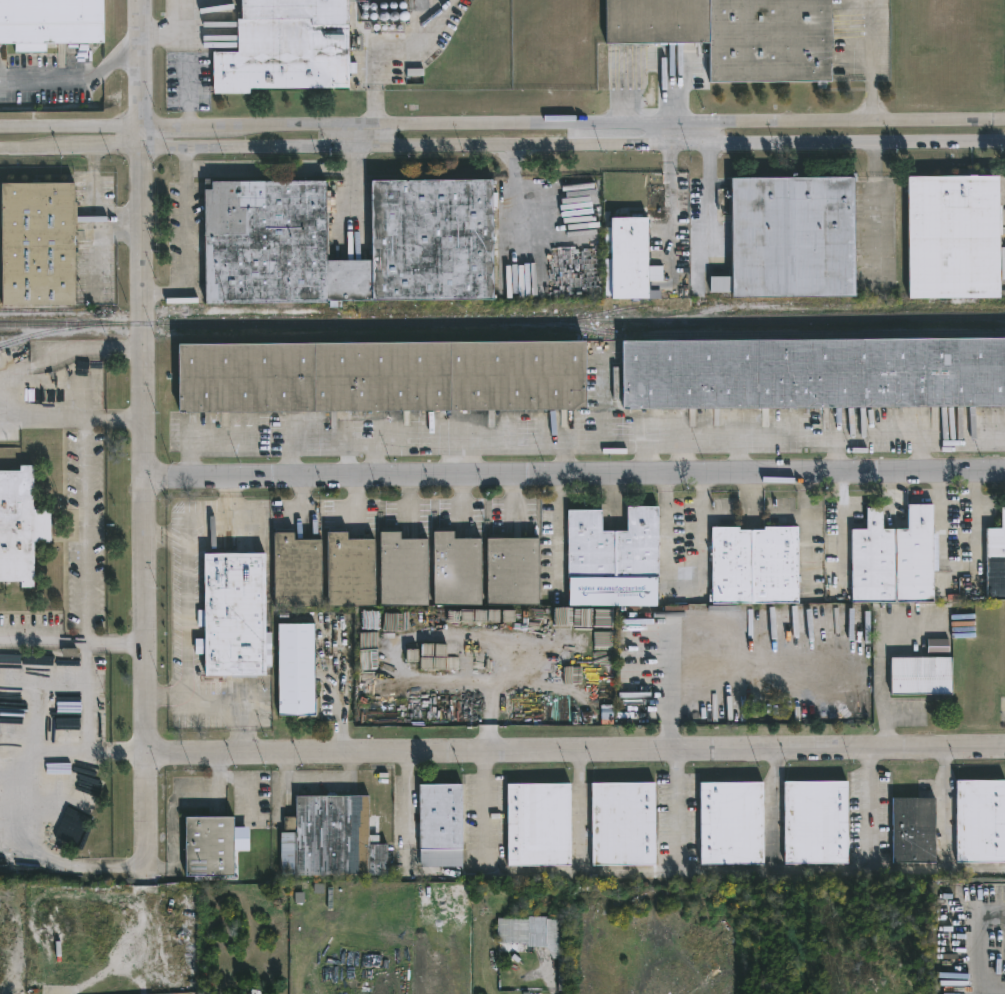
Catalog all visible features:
building: (50, 23)
road: (166, 34)
building: (733, 34)
building: (284, 47)
road: (392, 58)
road: (123, 60)
road: (872, 62)
road: (143, 64)
road: (189, 64)
road: (96, 77)
road: (45, 81)
road: (574, 126)
road: (72, 130)
road: (710, 135)
road: (144, 137)
road: (366, 137)
road: (574, 146)
road: (72, 148)
road: (517, 184)
road: (360, 188)
road: (710, 195)
road: (671, 208)
road: (184, 236)
building: (261, 236)
building: (952, 236)
building: (790, 237)
building: (607, 241)
building: (35, 243)
building: (628, 257)
railway: (776, 302)
railway: (43, 309)
railway: (614, 310)
railway: (502, 320)
railway: (51, 330)
railway: (758, 333)
road: (66, 346)
building: (813, 374)
building: (381, 377)
road: (38, 418)
road: (688, 446)
road: (289, 448)
road: (360, 448)
road: (144, 450)
road: (192, 453)
road: (920, 456)
road: (739, 458)
road: (838, 460)
road: (684, 461)
road: (646, 462)
road: (565, 463)
road: (460, 465)
road: (575, 475)
road: (409, 497)
road: (356, 498)
road: (461, 498)
road: (302, 499)
road: (513, 500)
road: (840, 523)
building: (20, 526)
road: (87, 531)
road: (555, 533)
building: (611, 559)
building: (893, 559)
building: (996, 560)
building: (752, 566)
building: (402, 573)
road: (188, 616)
building: (233, 616)
road: (73, 644)
building: (938, 647)
road: (88, 650)
road: (88, 664)
building: (294, 669)
building: (921, 676)
road: (669, 678)
road: (666, 734)
road: (87, 741)
road: (576, 750)
road: (33, 752)
road: (406, 800)
road: (945, 807)
road: (869, 808)
road: (679, 809)
road: (773, 809)
road: (579, 810)
road: (485, 811)
building: (980, 821)
building: (537, 822)
building: (816, 822)
building: (439, 824)
building: (622, 824)
building: (730, 824)
building: (913, 830)
building: (330, 837)
building: (206, 847)
road: (116, 869)
road: (733, 869)
road: (423, 872)
road: (995, 908)
building: (513, 929)
road: (985, 951)

